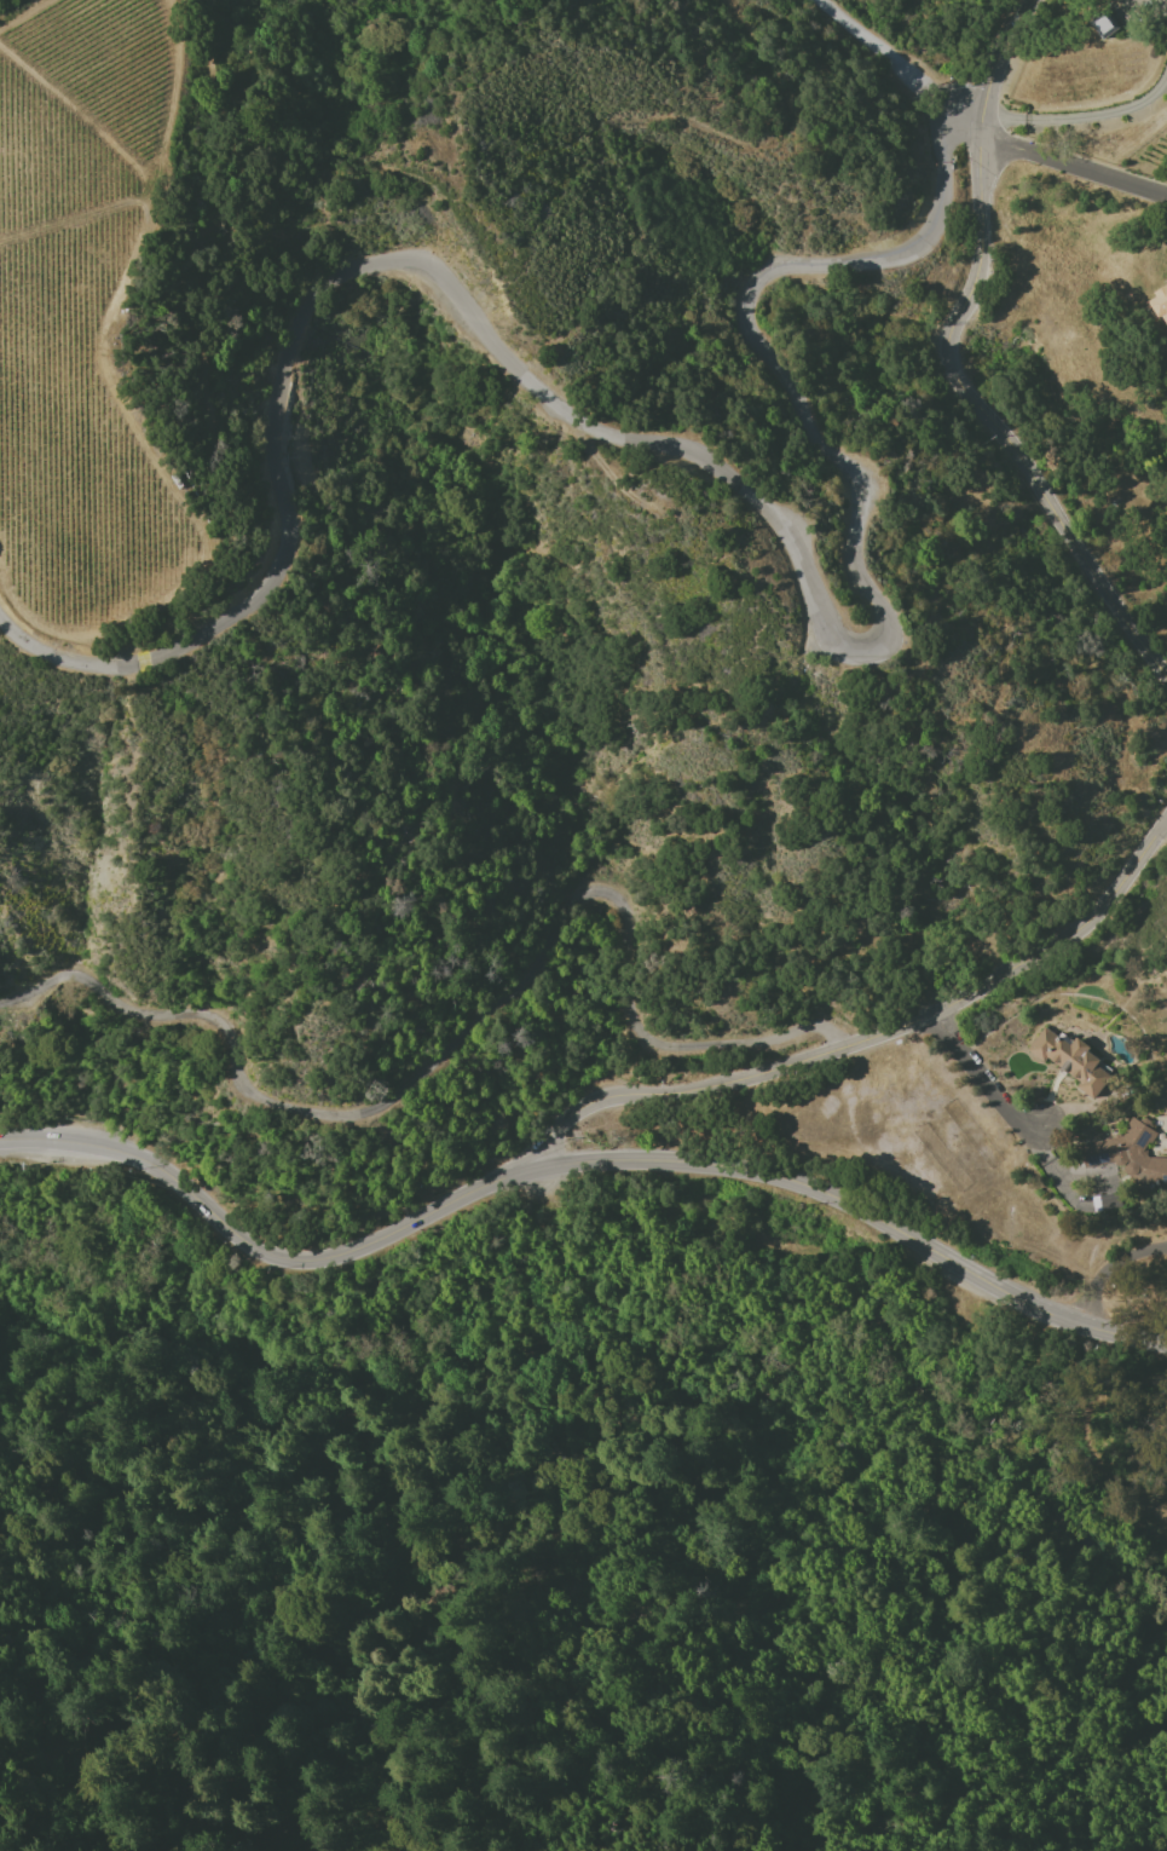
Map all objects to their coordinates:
crop: (19, 10)
building: (1104, 25)
road: (882, 57)
road: (1085, 117)
road: (1074, 167)
building: (1160, 301)
road: (946, 364)
road: (676, 443)
road: (470, 1027)
road: (867, 1037)
building: (1070, 1060)
road: (986, 1076)
building: (1130, 1157)
building: (1107, 1201)
road: (861, 1212)
road: (261, 1251)
road: (1108, 1267)

